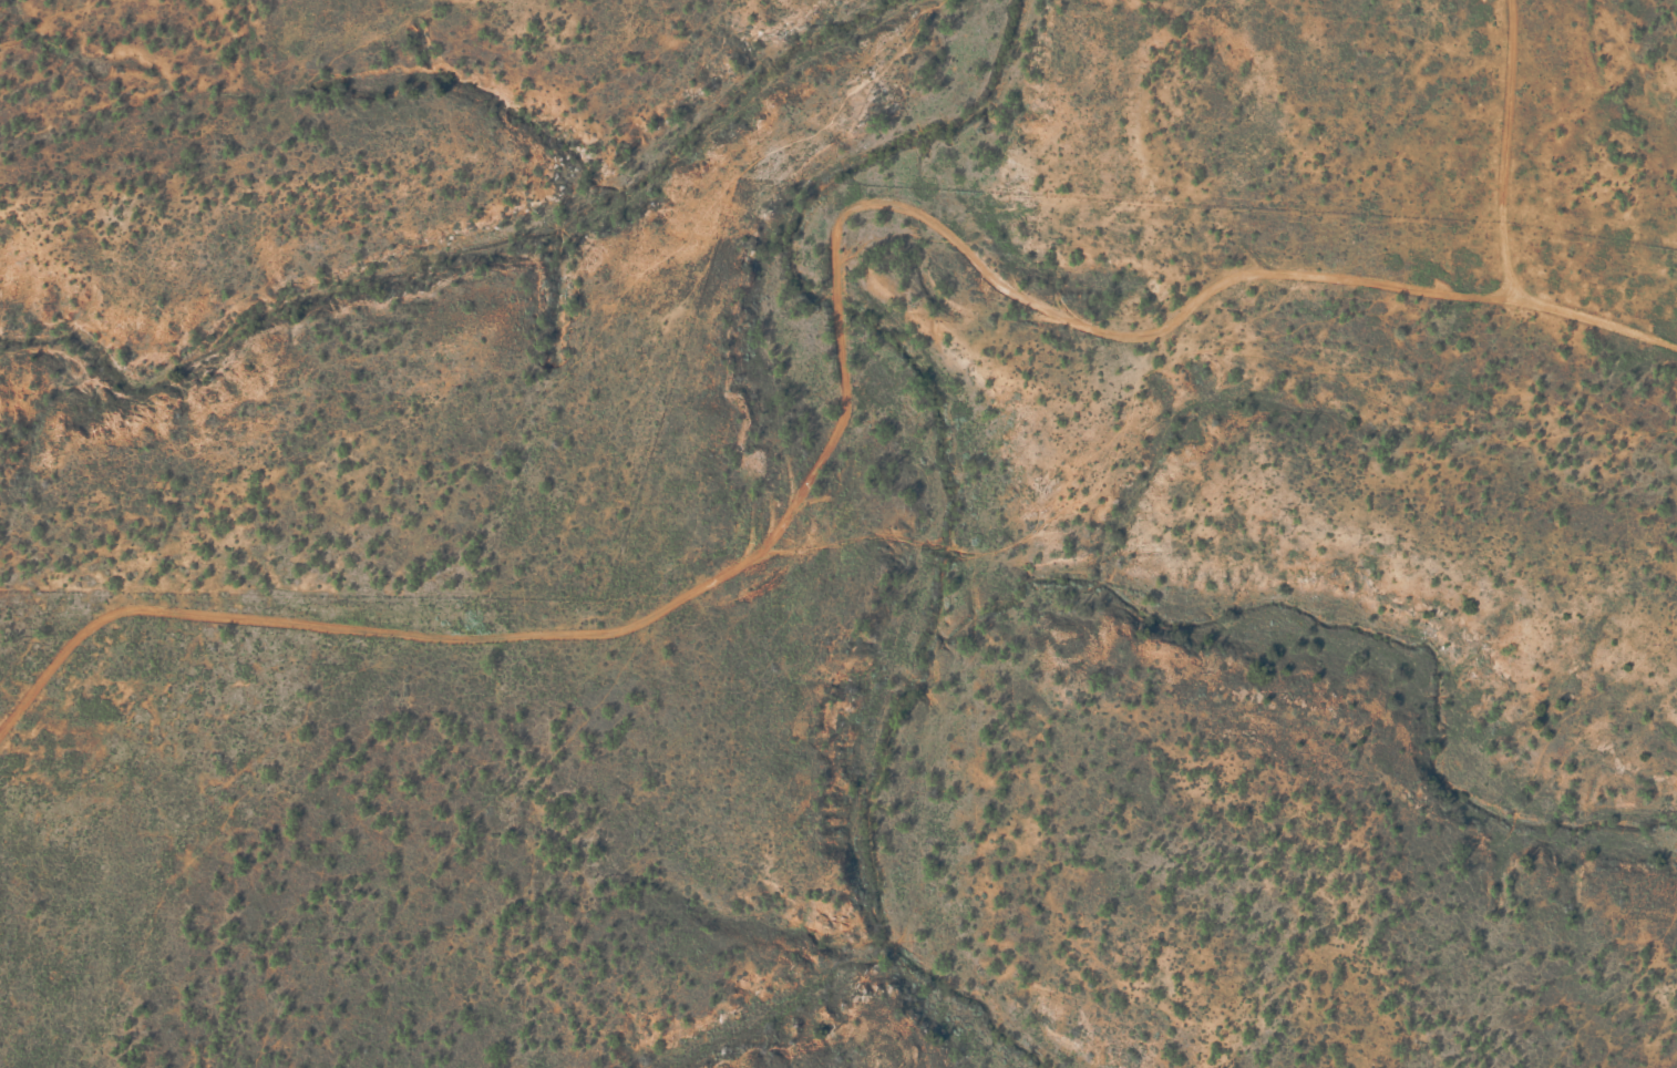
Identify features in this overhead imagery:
road: (1509, 141)
road: (944, 458)

